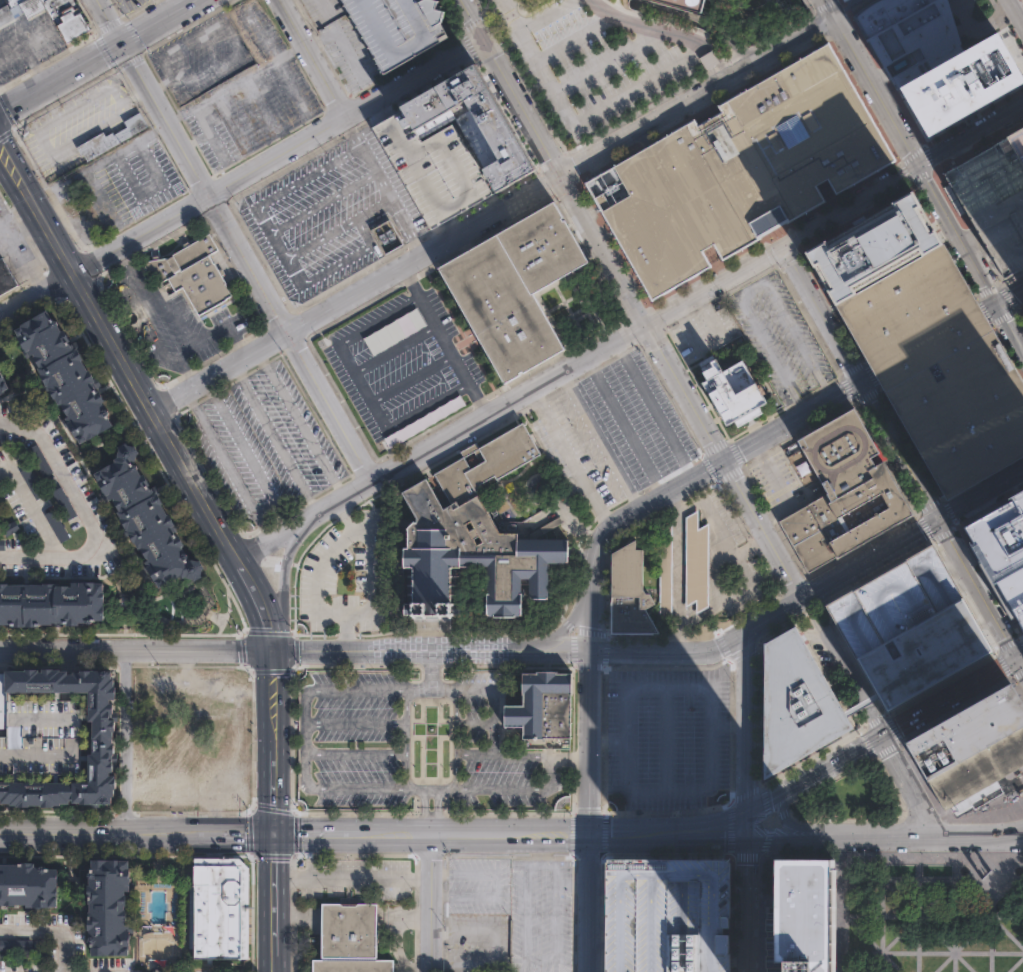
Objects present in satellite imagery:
road: (333, 1)
building: (832, 1)
road: (180, 3)
parking lot: (129, 4)
building: (687, 4)
road: (843, 5)
road: (1017, 8)
building: (49, 15)
road: (545, 15)
road: (108, 20)
road: (157, 20)
road: (45, 22)
road: (346, 26)
building: (397, 27)
parking garage: (397, 27)
road: (665, 32)
building: (907, 34)
road: (576, 39)
traffic signals: (121, 41)
road: (239, 51)
parking lot: (199, 56)
road: (311, 57)
road: (275, 59)
building: (708, 59)
road: (13, 60)
road: (607, 62)
parking lot: (586, 64)
road: (35, 68)
road: (60, 75)
road: (234, 82)
building: (958, 82)
road: (160, 84)
parking lot: (251, 96)
road: (261, 104)
road: (380, 107)
road: (10, 120)
road: (230, 121)
road: (575, 122)
road: (38, 126)
building: (492, 127)
road: (209, 133)
building: (108, 137)
building: (1015, 145)
road: (98, 162)
road: (4, 164)
building: (431, 168)
parking garage: (431, 168)
building: (737, 168)
road: (924, 173)
road: (241, 175)
parking lot: (128, 180)
road: (294, 183)
road: (381, 185)
road: (322, 202)
building: (991, 203)
parking garage: (991, 203)
parking lot: (77, 208)
road: (492, 214)
parking lot: (328, 215)
road: (23, 222)
road: (336, 228)
road: (444, 229)
road: (363, 232)
building: (385, 235)
road: (969, 239)
road: (276, 245)
building: (868, 246)
traffic signals: (779, 248)
road: (38, 250)
road: (21, 251)
road: (130, 252)
road: (245, 261)
road: (321, 273)
building: (197, 275)
building: (6, 276)
building: (512, 288)
road: (633, 296)
road: (170, 297)
road: (1002, 297)
building: (1022, 308)
road: (153, 319)
road: (377, 319)
road: (233, 321)
road: (647, 323)
parking lot: (703, 330)
parking lot: (777, 336)
road: (444, 340)
road: (710, 340)
road: (798, 340)
road: (765, 342)
road: (925, 342)
road: (394, 347)
road: (116, 353)
road: (193, 364)
building: (937, 367)
parking garage: (937, 367)
building: (67, 373)
road: (412, 378)
traffic signals: (857, 381)
road: (857, 382)
road: (362, 384)
building: (3, 385)
building: (732, 390)
road: (428, 405)
road: (652, 409)
building: (424, 420)
road: (300, 422)
road: (623, 425)
parking lot: (615, 428)
road: (273, 437)
parking lot: (267, 438)
road: (599, 440)
road: (737, 448)
traffic signals: (724, 456)
road: (567, 457)
building: (40, 460)
road: (981, 472)
building: (32, 480)
road: (979, 493)
building: (846, 495)
road: (264, 504)
road: (929, 505)
road: (31, 507)
building: (66, 507)
road: (90, 510)
road: (284, 512)
traffic signals: (936, 518)
building: (144, 522)
building: (56, 524)
road: (262, 525)
building: (10, 528)
road: (944, 534)
building: (471, 535)
building: (2, 543)
building: (1002, 548)
road: (251, 549)
road: (599, 550)
building: (669, 569)
road: (838, 573)
road: (318, 574)
road: (371, 578)
road: (987, 582)
road: (283, 583)
road: (976, 587)
road: (964, 594)
building: (51, 600)
road: (256, 602)
road: (592, 614)
road: (982, 619)
road: (570, 621)
building: (905, 625)
parking garage: (905, 625)
traffic signals: (744, 633)
road: (1020, 636)
road: (1020, 640)
road: (727, 642)
road: (1006, 642)
road: (135, 650)
traffic signals: (271, 650)
road: (400, 650)
road: (560, 651)
traffic signals: (591, 651)
road: (650, 651)
road: (1020, 654)
traffic signals: (1017, 656)
road: (1020, 661)
road: (67, 662)
road: (1003, 663)
road: (841, 664)
road: (1017, 675)
road: (941, 683)
road: (67, 684)
road: (660, 687)
road: (1017, 687)
road: (355, 689)
road: (418, 689)
road: (476, 689)
road: (273, 695)
road: (67, 698)
building: (3, 700)
building: (793, 704)
road: (861, 705)
building: (541, 706)
road: (955, 708)
road: (355, 720)
road: (744, 721)
road: (872, 722)
road: (892, 727)
road: (880, 733)
traffic signals: (880, 734)
parking lot: (670, 736)
road: (667, 737)
building: (40, 738)
parking garage: (40, 738)
road: (307, 738)
road: (404, 738)
building: (102, 739)
road: (122, 741)
road: (591, 742)
road: (866, 742)
parking lot: (414, 743)
building: (970, 745)
road: (887, 748)
road: (501, 755)
road: (547, 771)
road: (456, 783)
road: (907, 783)
road: (273, 787)
road: (358, 787)
road: (418, 787)
road: (501, 787)
road: (675, 787)
road: (430, 809)
traffic signals: (744, 810)
road: (773, 814)
road: (744, 824)
road: (702, 825)
road: (465, 832)
road: (62, 833)
road: (199, 833)
traffic signals: (273, 833)
traffic signals: (591, 834)
road: (840, 836)
traffic signals: (745, 838)
road: (992, 840)
road: (540, 844)
road: (351, 877)
road: (273, 878)
parking lot: (358, 878)
road: (494, 884)
parking lot: (478, 885)
road: (744, 886)
building: (25, 888)
road: (924, 895)
road: (998, 899)
road: (430, 902)
road: (590, 903)
building: (108, 907)
building: (219, 907)
parking lot: (541, 915)
building: (666, 916)
parking garage: (666, 916)
building: (803, 916)
road: (917, 918)
park: (938, 918)
road: (917, 926)
road: (936, 929)
road: (972, 931)
road: (51, 932)
road: (954, 936)
road: (870, 938)
building: (350, 939)
parking lot: (477, 942)
building: (15, 944)
road: (991, 944)
road: (273, 947)
road: (496, 947)
road: (952, 950)
road: (744, 953)
road: (540, 957)
road: (893, 960)
road: (944, 961)
road: (964, 961)
road: (736, 962)
road: (1015, 964)

